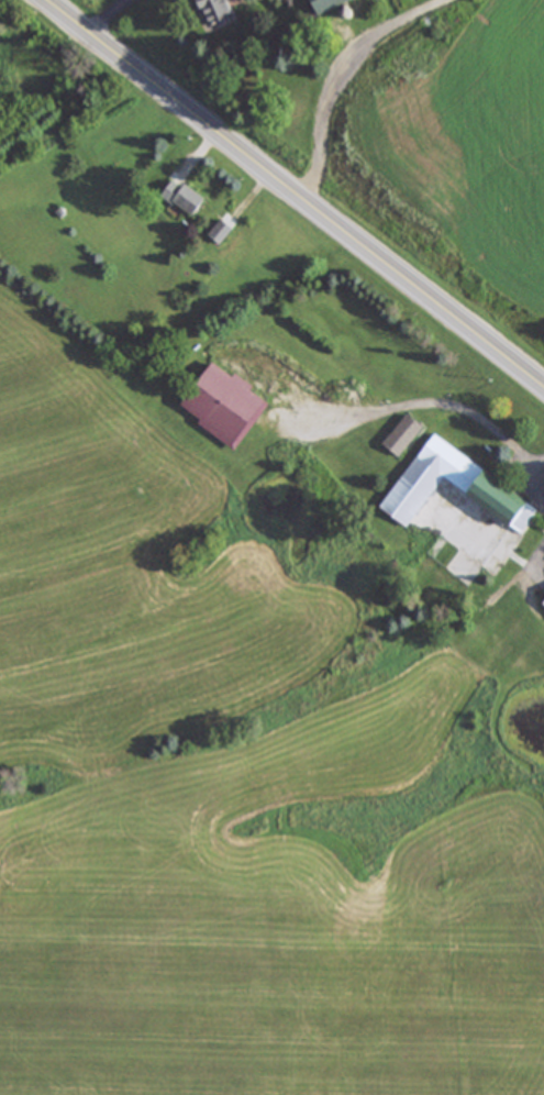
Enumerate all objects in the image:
building: (326, 4)
building: (214, 11)
road: (321, 101)
road: (292, 195)
building: (181, 197)
building: (219, 230)

